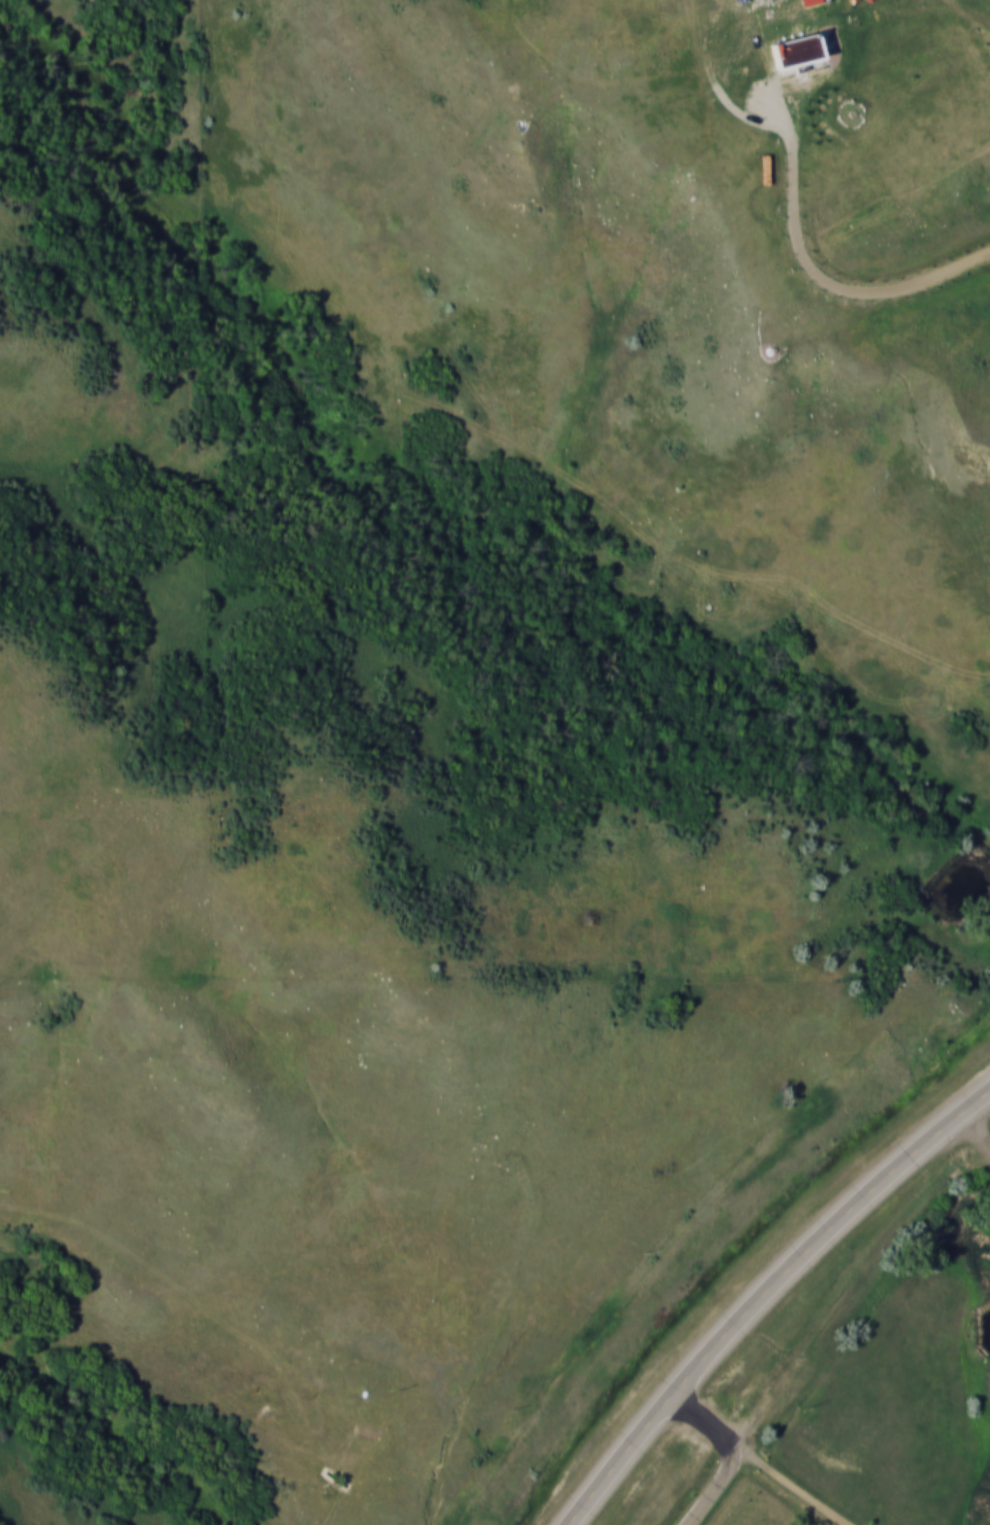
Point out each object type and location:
building: (796, 49)
road: (820, 273)
road: (973, 1129)
road: (824, 1233)
road: (698, 1414)
road: (617, 1458)
road: (793, 1480)
road: (721, 1482)

